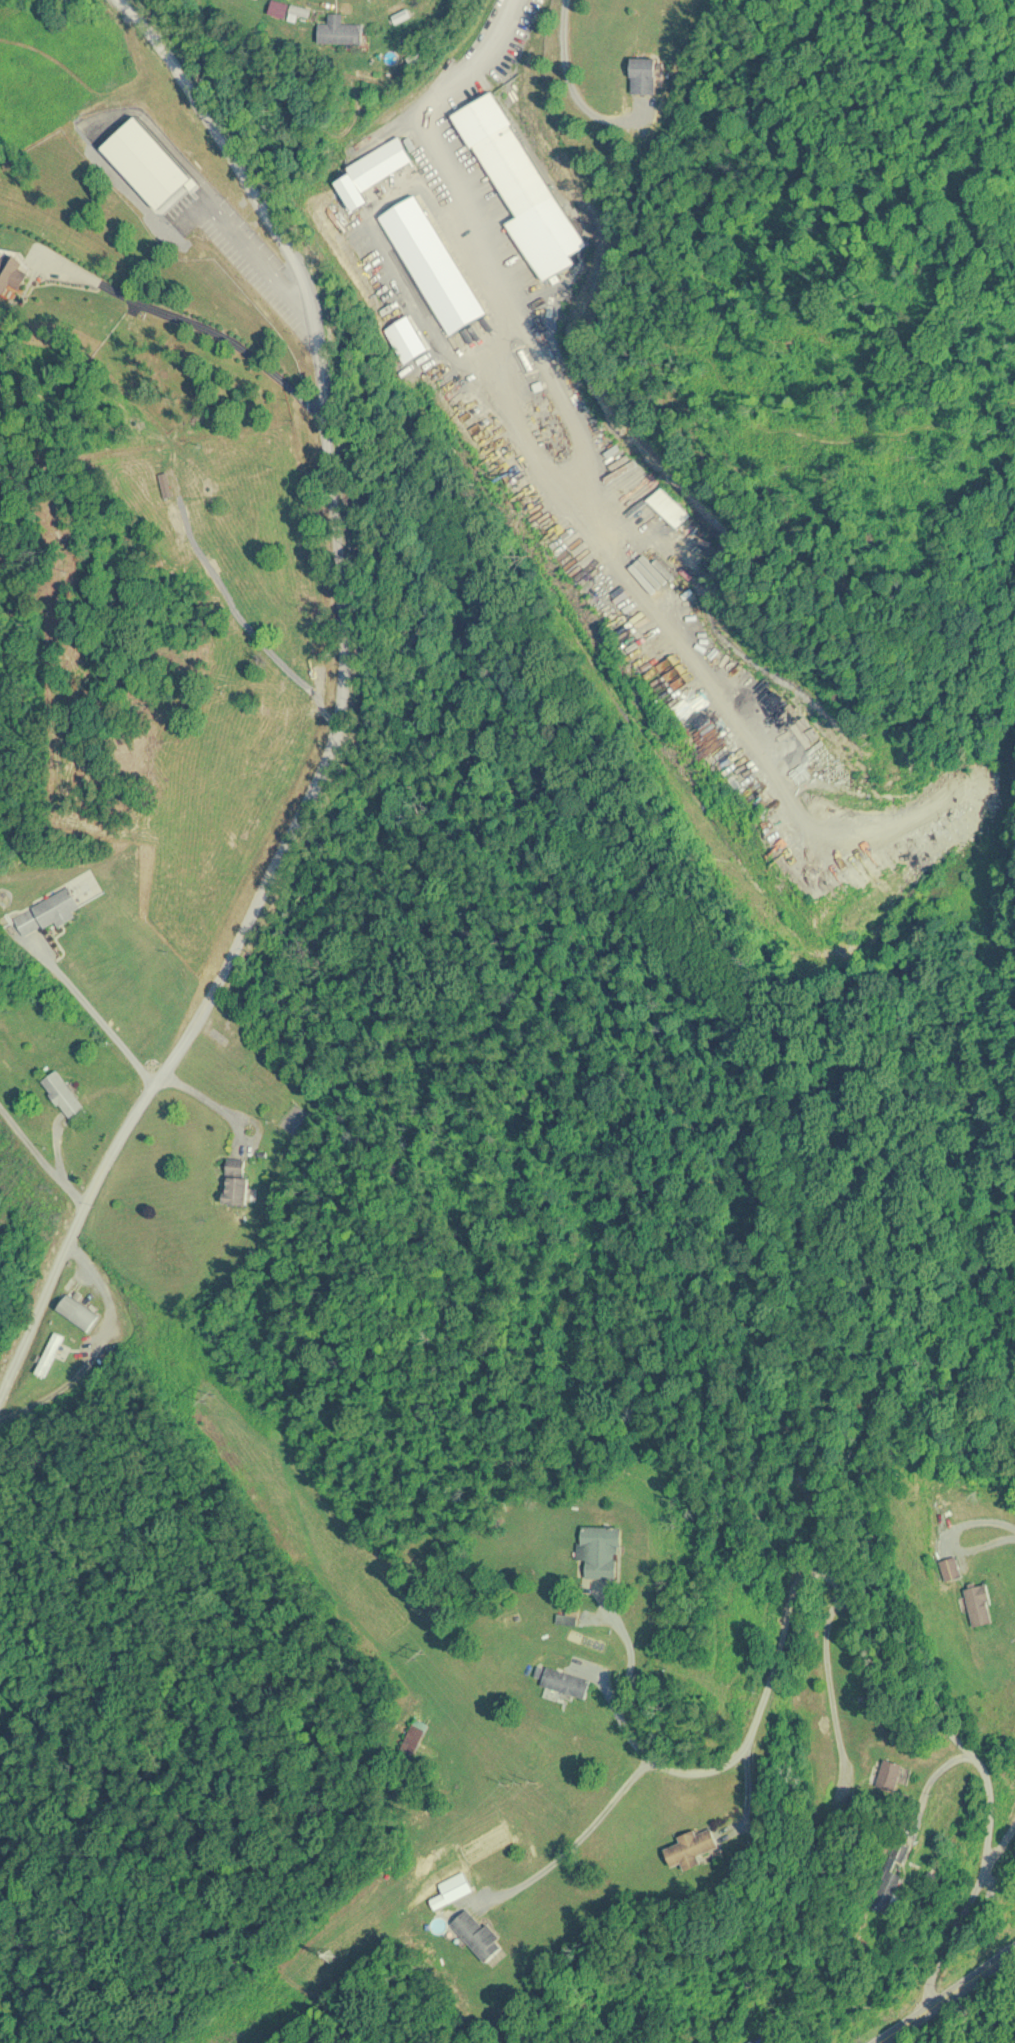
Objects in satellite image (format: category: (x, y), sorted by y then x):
building: (278, 8)
building: (339, 31)
building: (642, 75)
road: (570, 89)
building: (385, 160)
building: (507, 162)
building: (228, 239)
building: (10, 273)
road: (526, 328)
building: (287, 663)
road: (341, 712)
building: (47, 913)
building: (63, 1096)
building: (235, 1182)
building: (76, 1313)
building: (49, 1355)
power tower: (205, 1395)
building: (600, 1553)
building: (977, 1605)
road: (865, 1629)
power tower: (415, 1654)
road: (628, 1669)
road: (829, 1673)
building: (563, 1683)
building: (413, 1739)
building: (888, 1776)
road: (745, 1784)
power tower: (521, 1787)
road: (924, 1792)
road: (583, 1833)
road: (1000, 1842)
building: (688, 1846)
building: (476, 1934)
power tower: (329, 1959)
road: (946, 1996)
building: (745, 2040)

